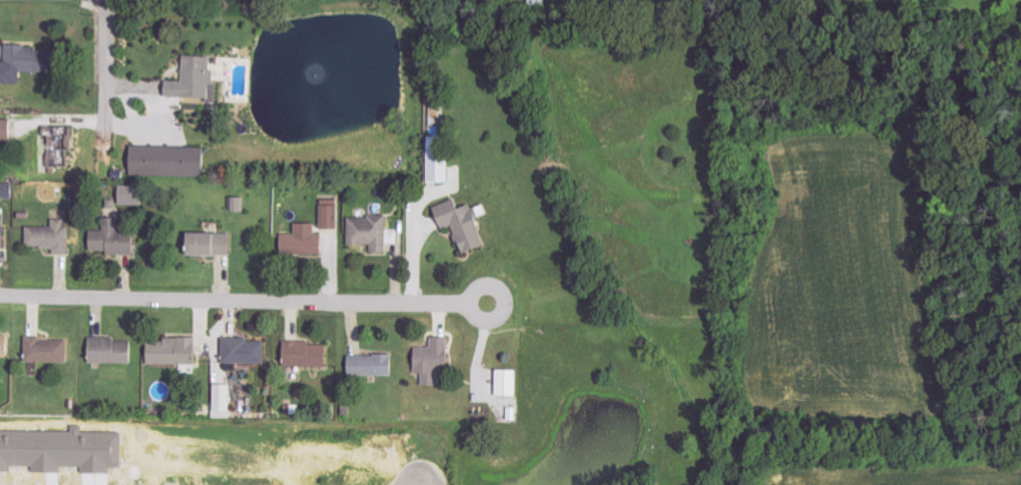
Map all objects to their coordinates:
building: (28, 63)
road: (105, 72)
building: (198, 80)
building: (5, 130)
building: (62, 145)
building: (172, 161)
building: (440, 161)
building: (8, 191)
building: (134, 195)
building: (240, 204)
building: (332, 214)
building: (466, 224)
building: (4, 231)
building: (371, 232)
building: (53, 237)
building: (116, 239)
building: (304, 239)
building: (216, 244)
road: (244, 301)
building: (5, 346)
building: (50, 350)
building: (113, 351)
building: (177, 351)
building: (246, 351)
building: (309, 354)
building: (436, 360)
building: (374, 365)
building: (511, 382)
building: (225, 401)

